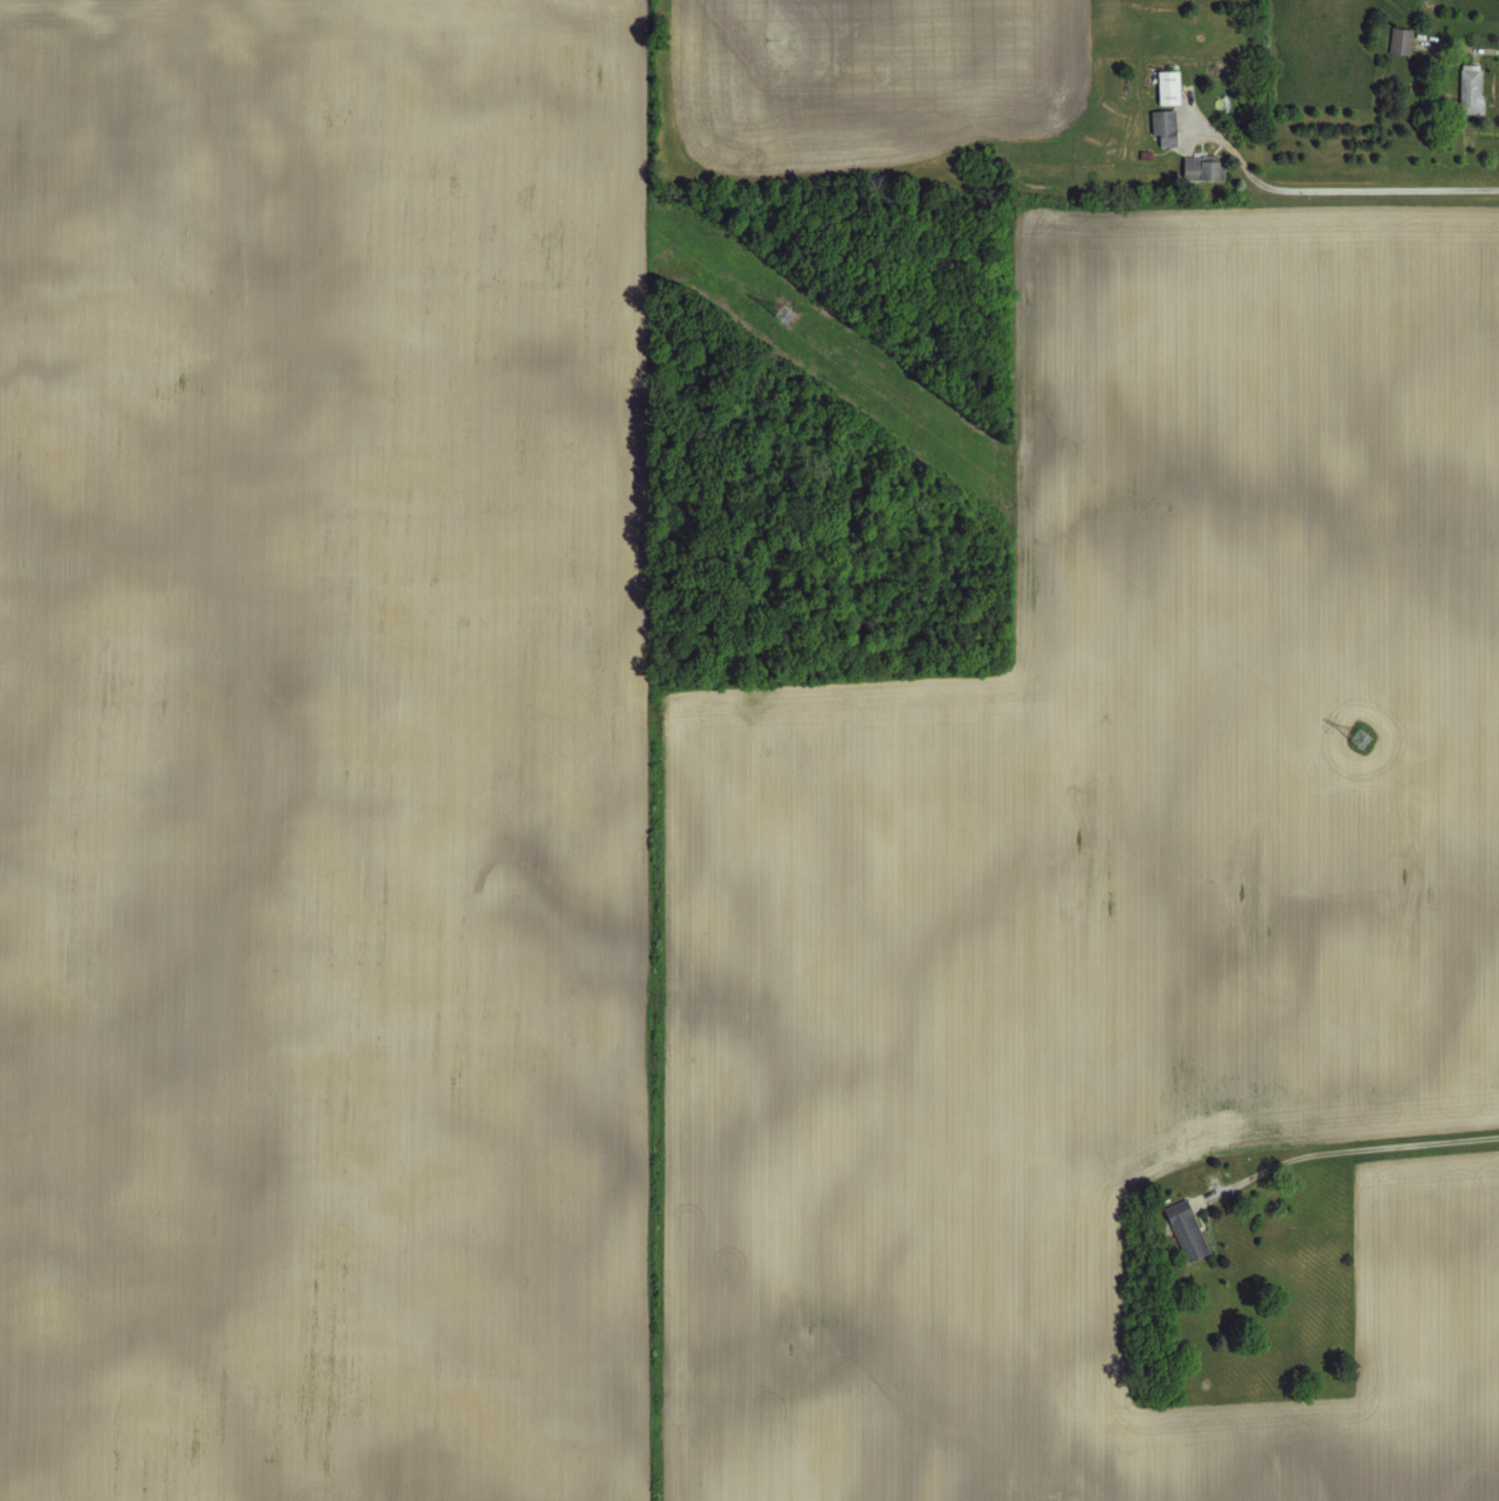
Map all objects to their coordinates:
building: (1400, 39)
building: (1166, 86)
building: (1469, 87)
building: (1163, 126)
building: (1203, 169)
road: (1357, 187)
power tower: (766, 303)
power tower: (1354, 736)
road: (1350, 1148)
building: (1185, 1228)

